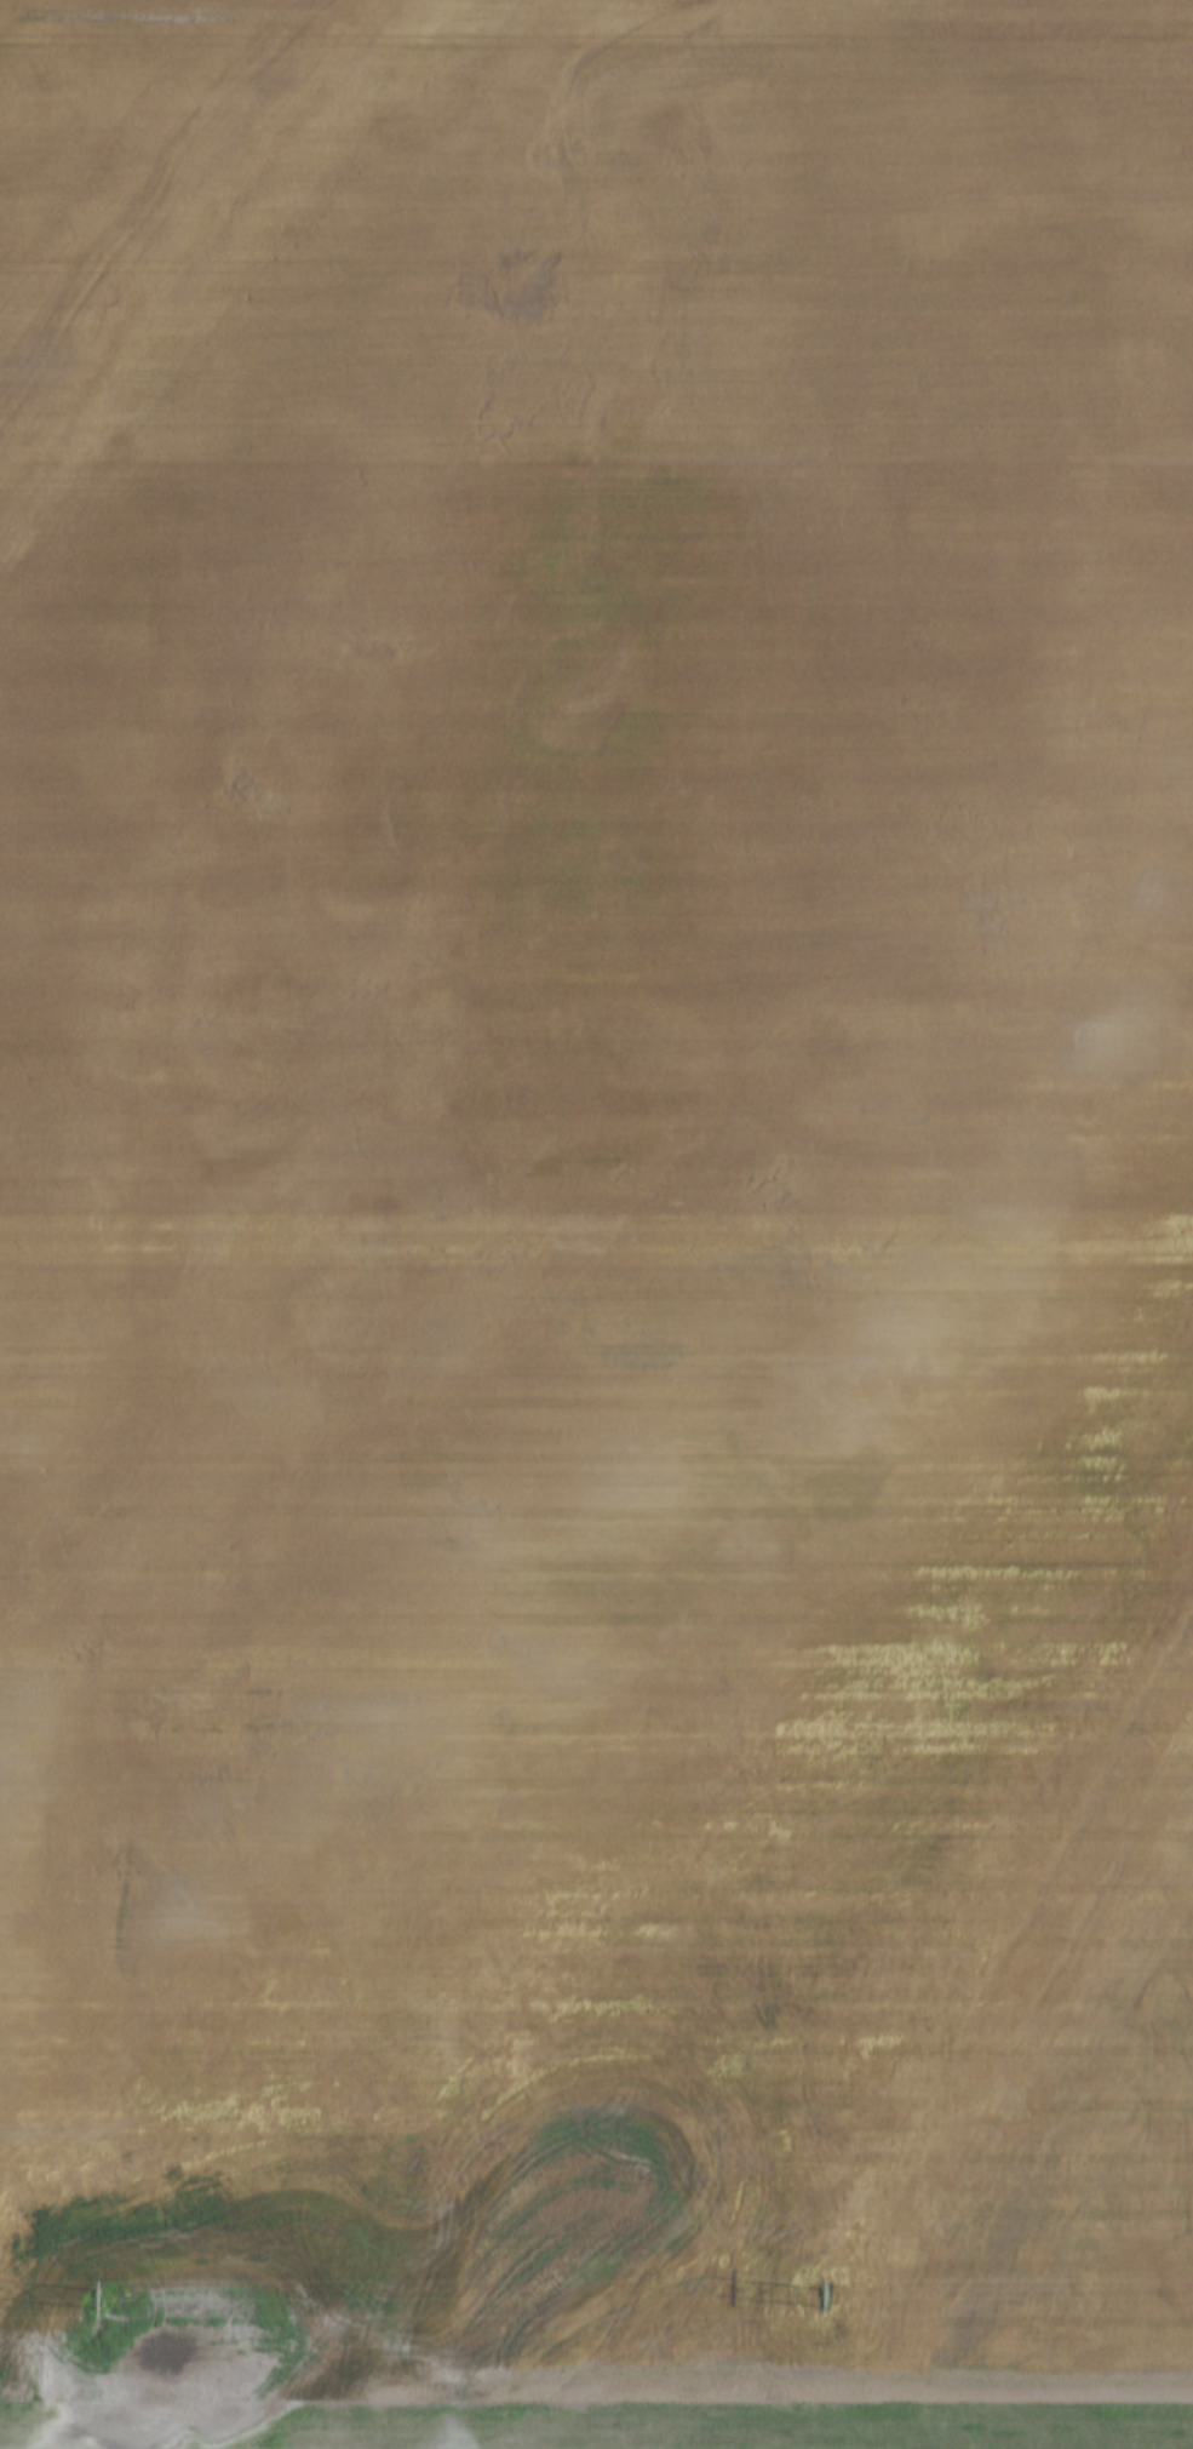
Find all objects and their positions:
power tower: (101, 2294)
power tower: (831, 2294)

